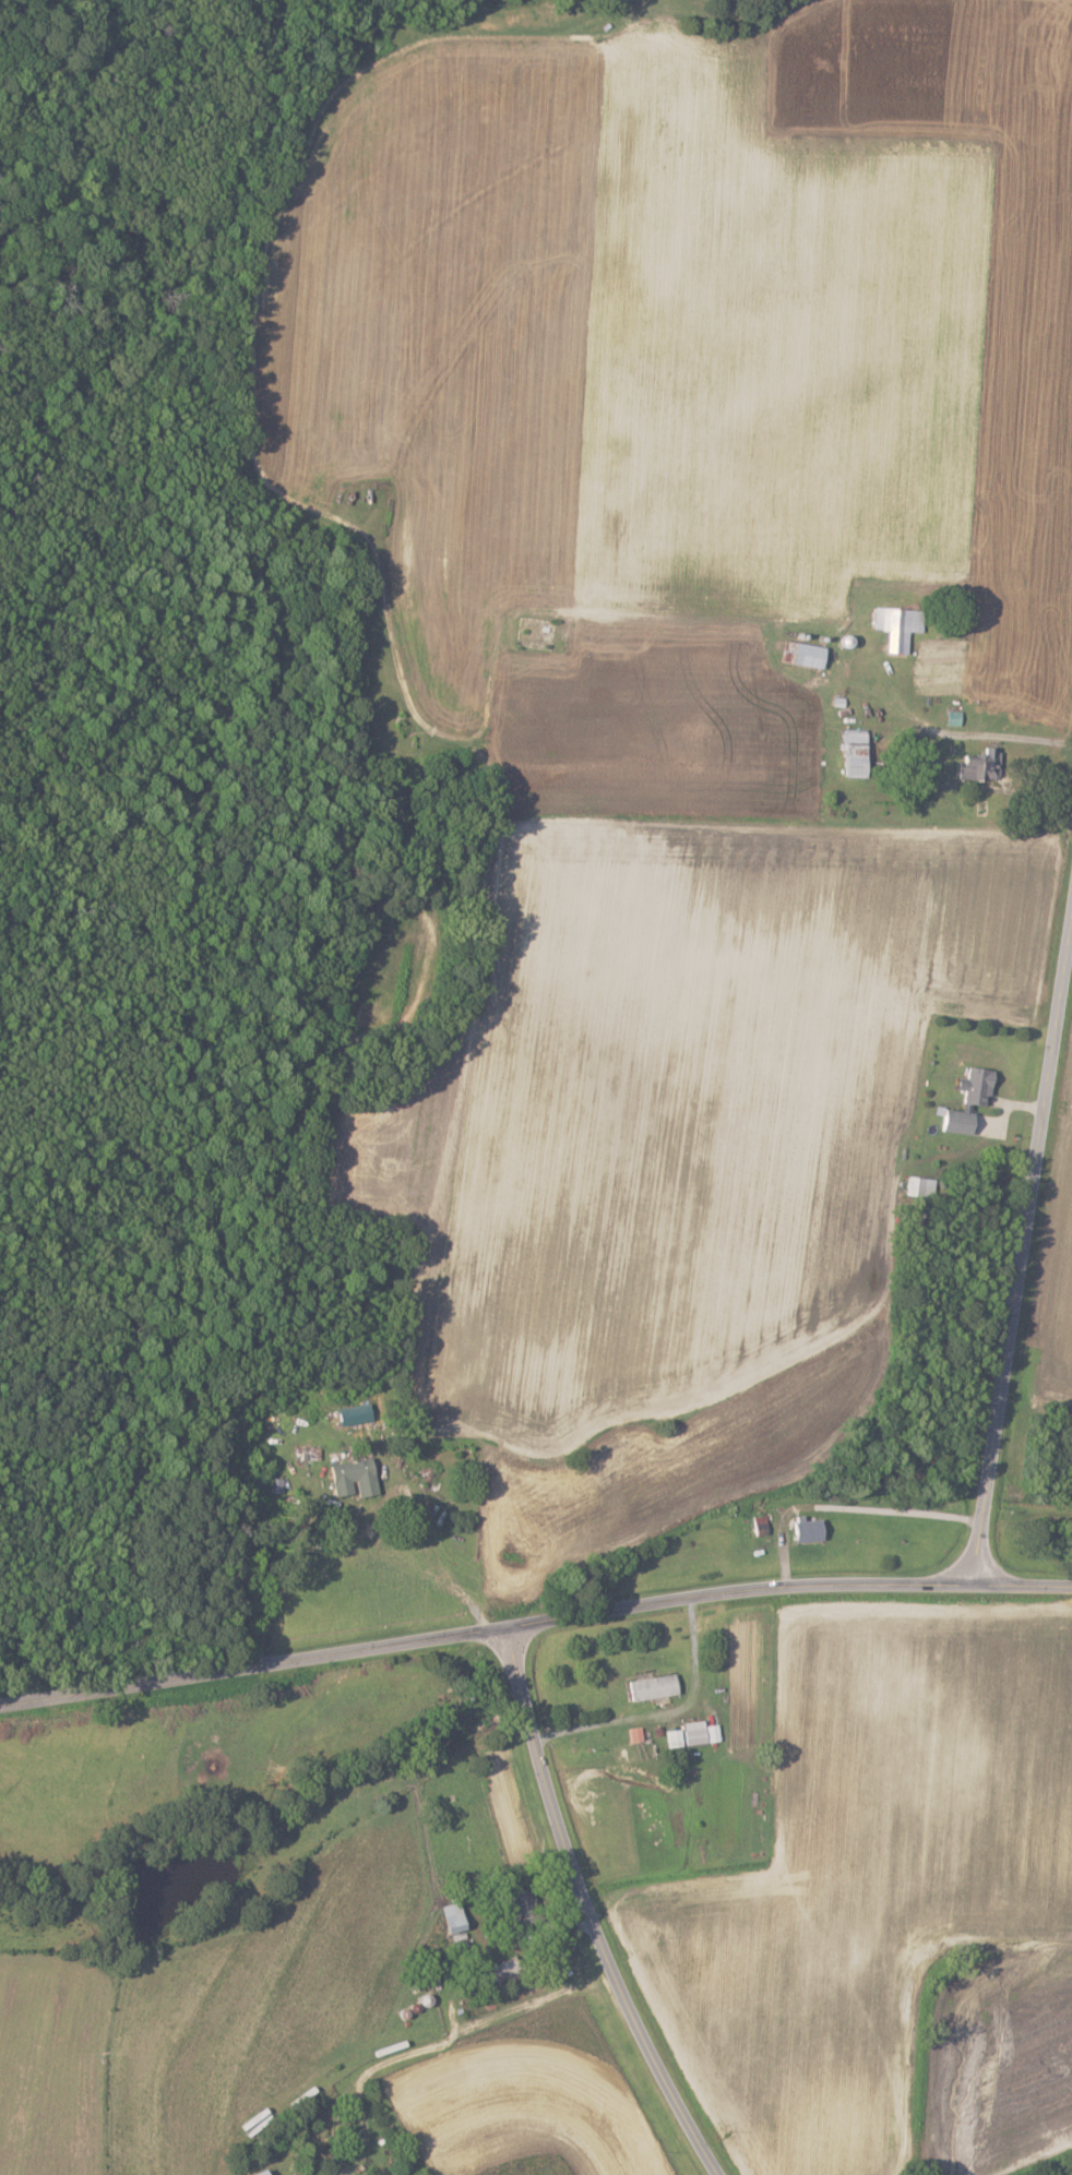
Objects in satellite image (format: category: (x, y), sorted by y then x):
building: (896, 626)
building: (805, 654)
building: (850, 754)
road: (892, 756)
building: (977, 766)
building: (975, 1086)
building: (954, 1121)
building: (922, 1186)
road: (1022, 1250)
building: (358, 1414)
building: (349, 1477)
building: (277, 1484)
road: (846, 1507)
building: (806, 1529)
road: (428, 1555)
road: (534, 1625)
building: (651, 1687)
building: (693, 1734)
building: (521, 1908)
road: (585, 1912)
building: (450, 1916)
building: (499, 1972)
road: (374, 2068)
building: (257, 2172)
building: (266, 2172)

